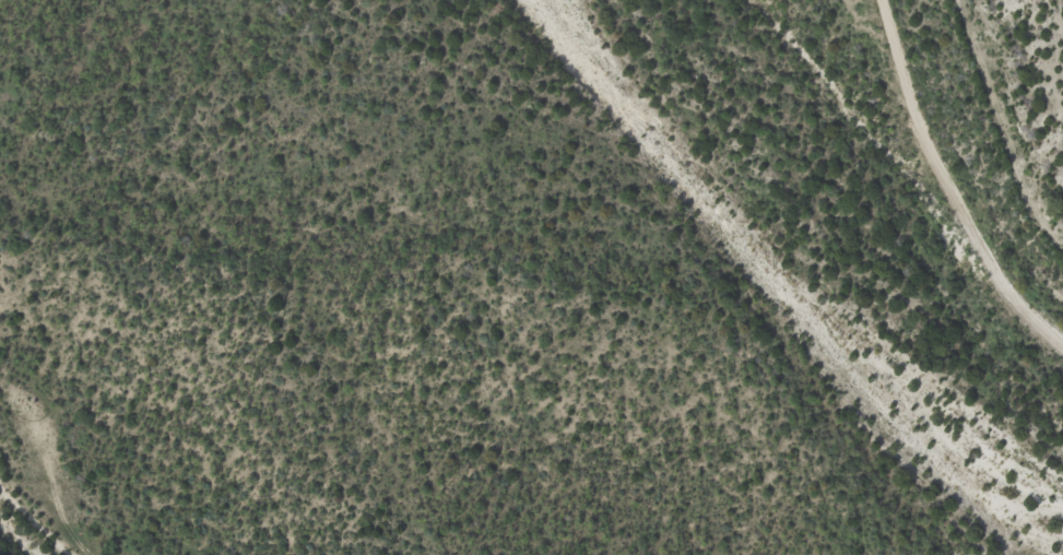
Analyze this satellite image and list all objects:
road: (953, 181)

